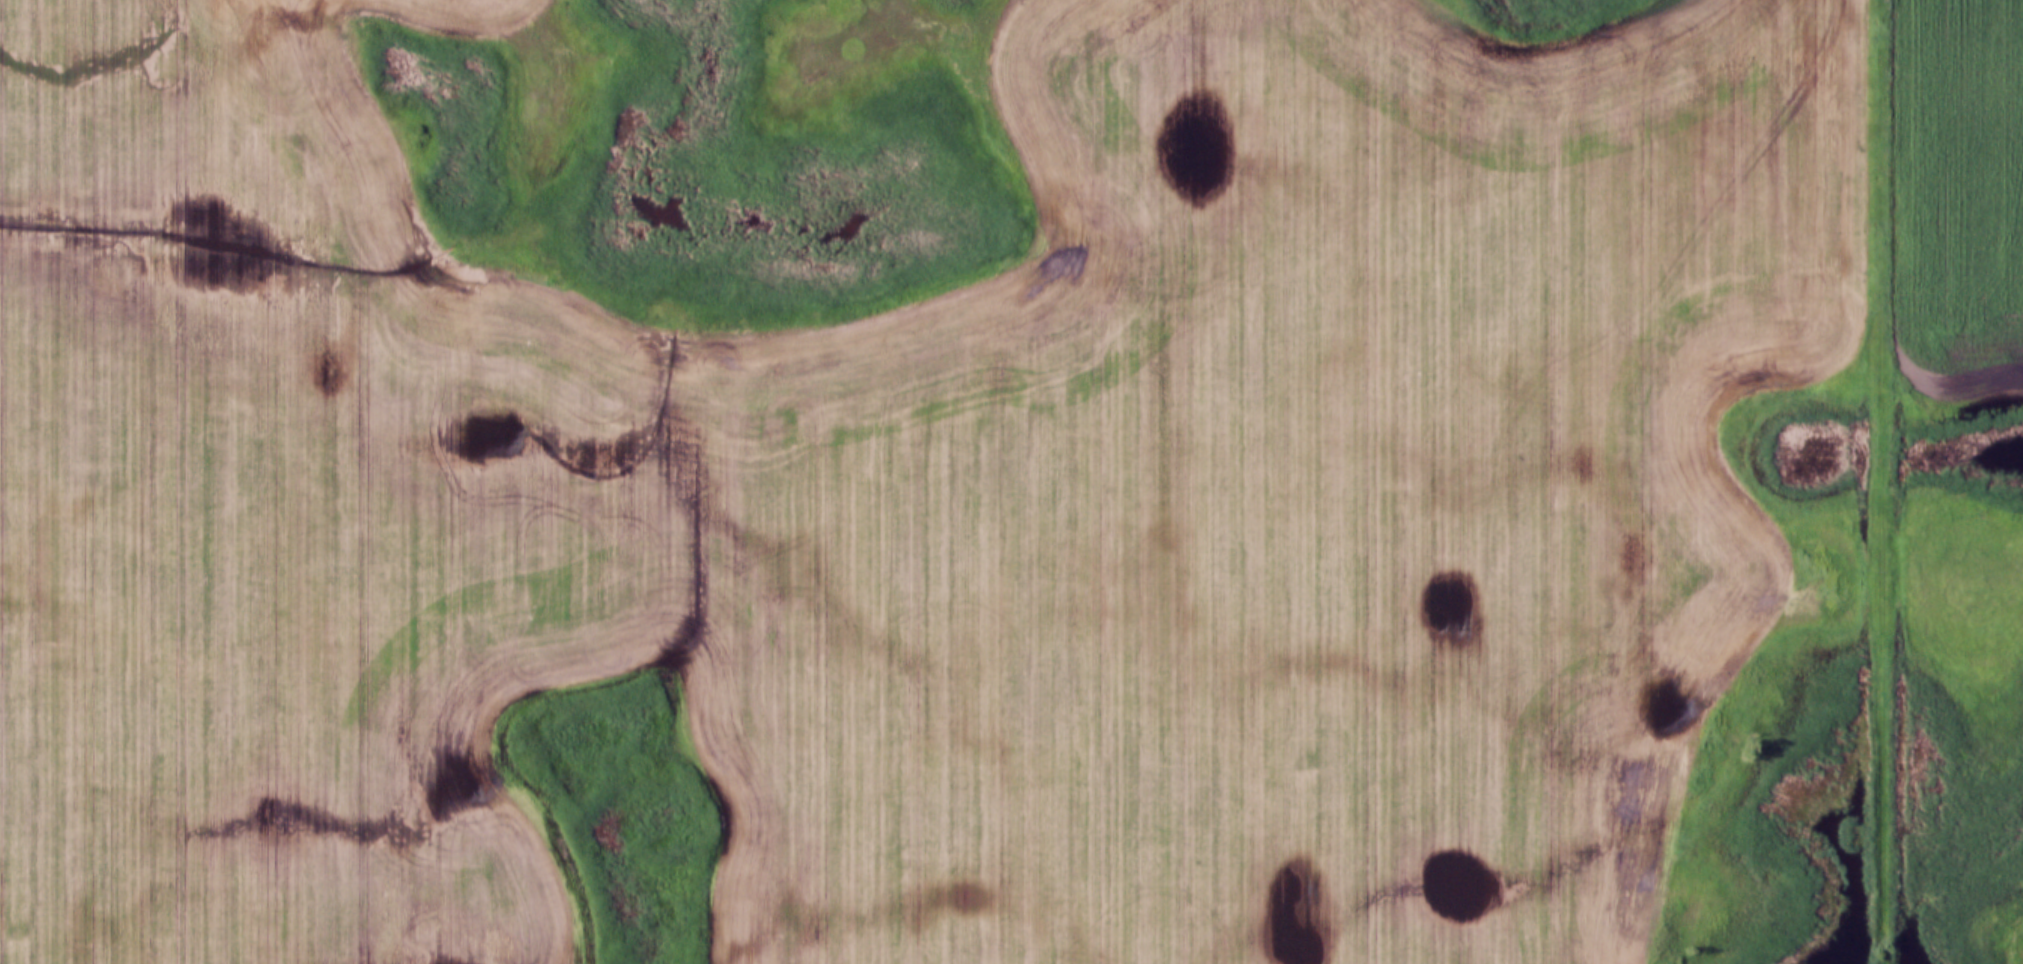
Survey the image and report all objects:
road: (1888, 482)

